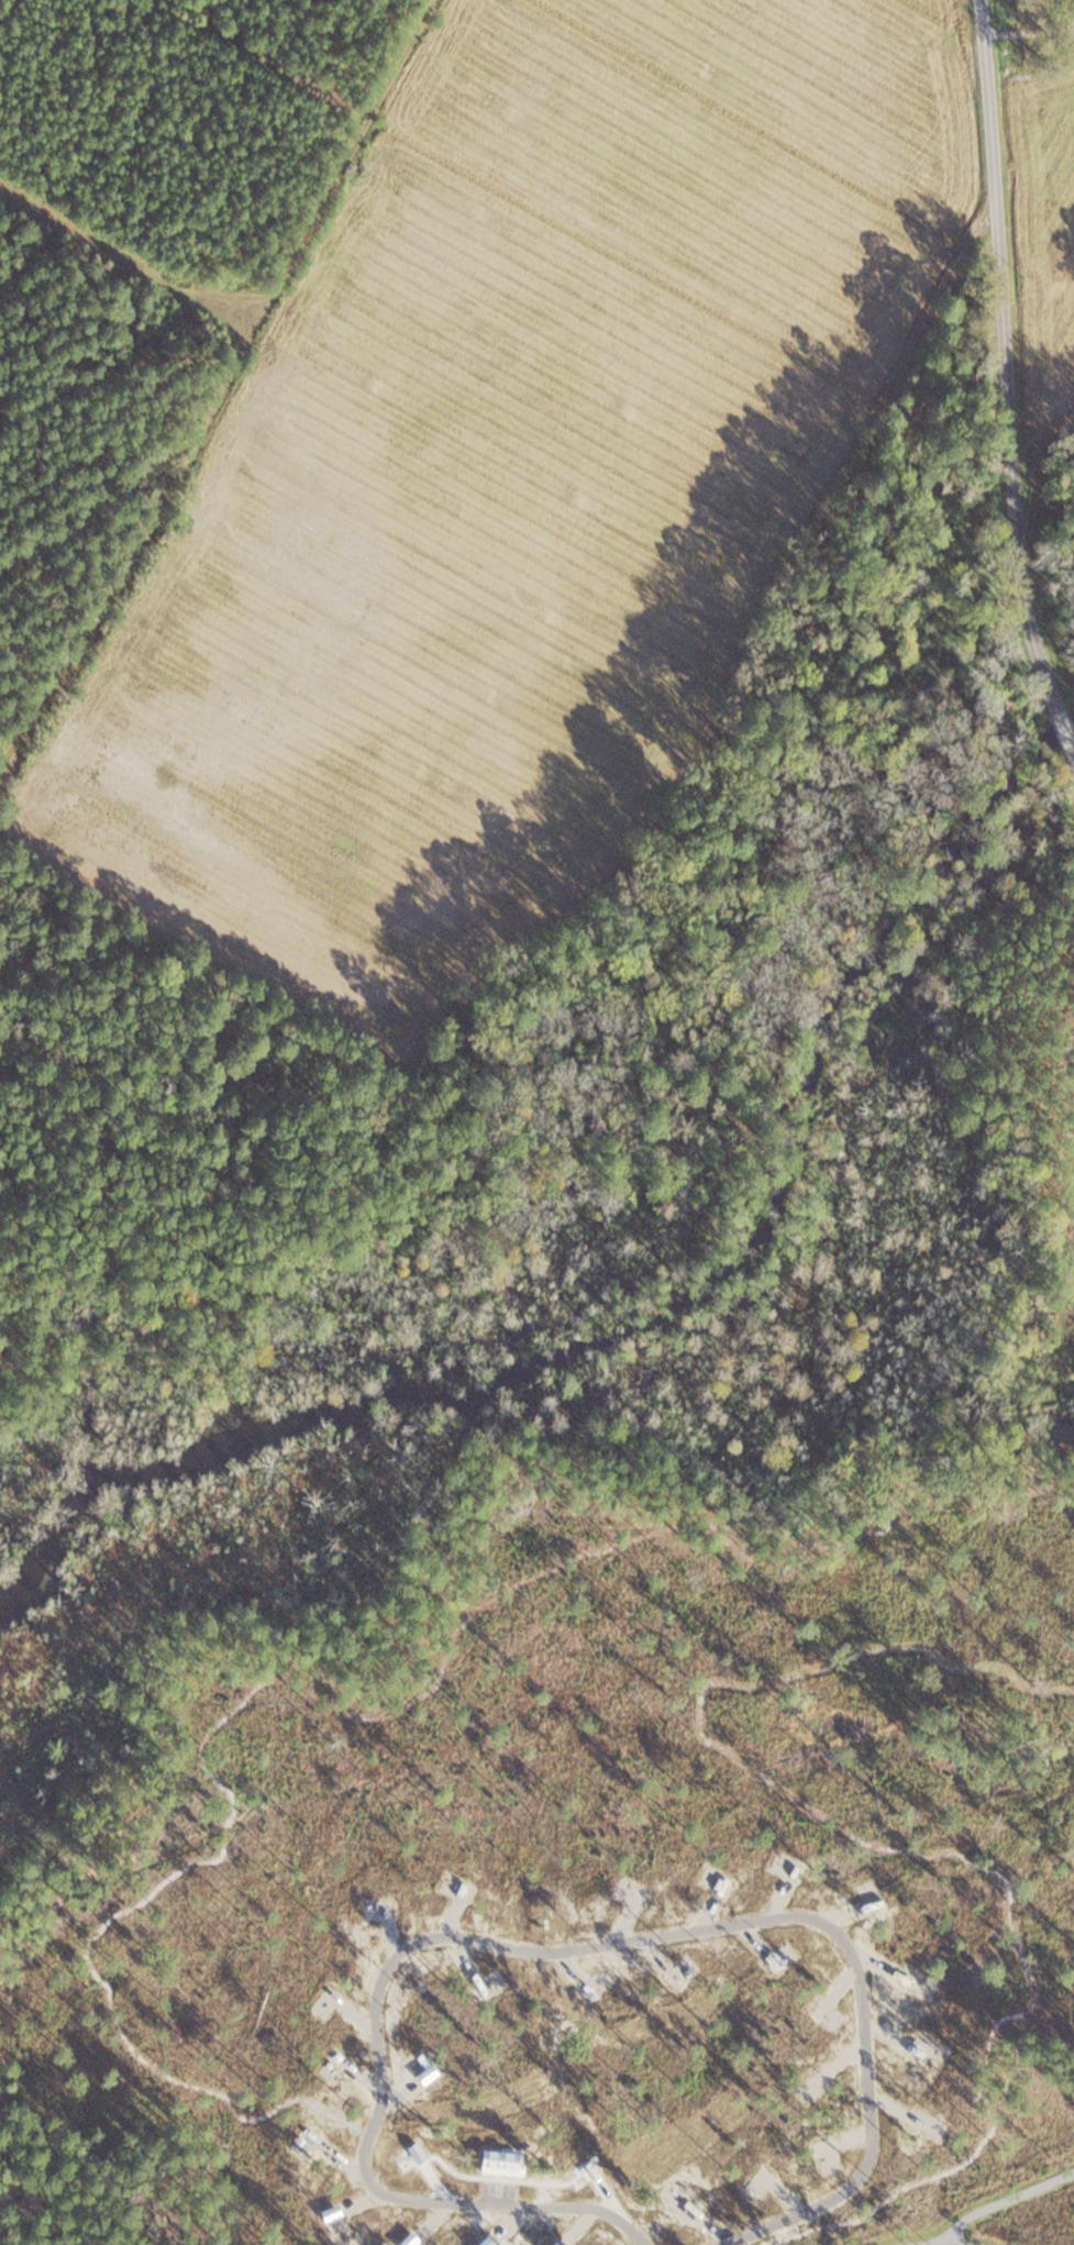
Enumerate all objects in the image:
road: (1003, 366)
road: (645, 793)
road: (560, 1950)
road: (1005, 2199)

